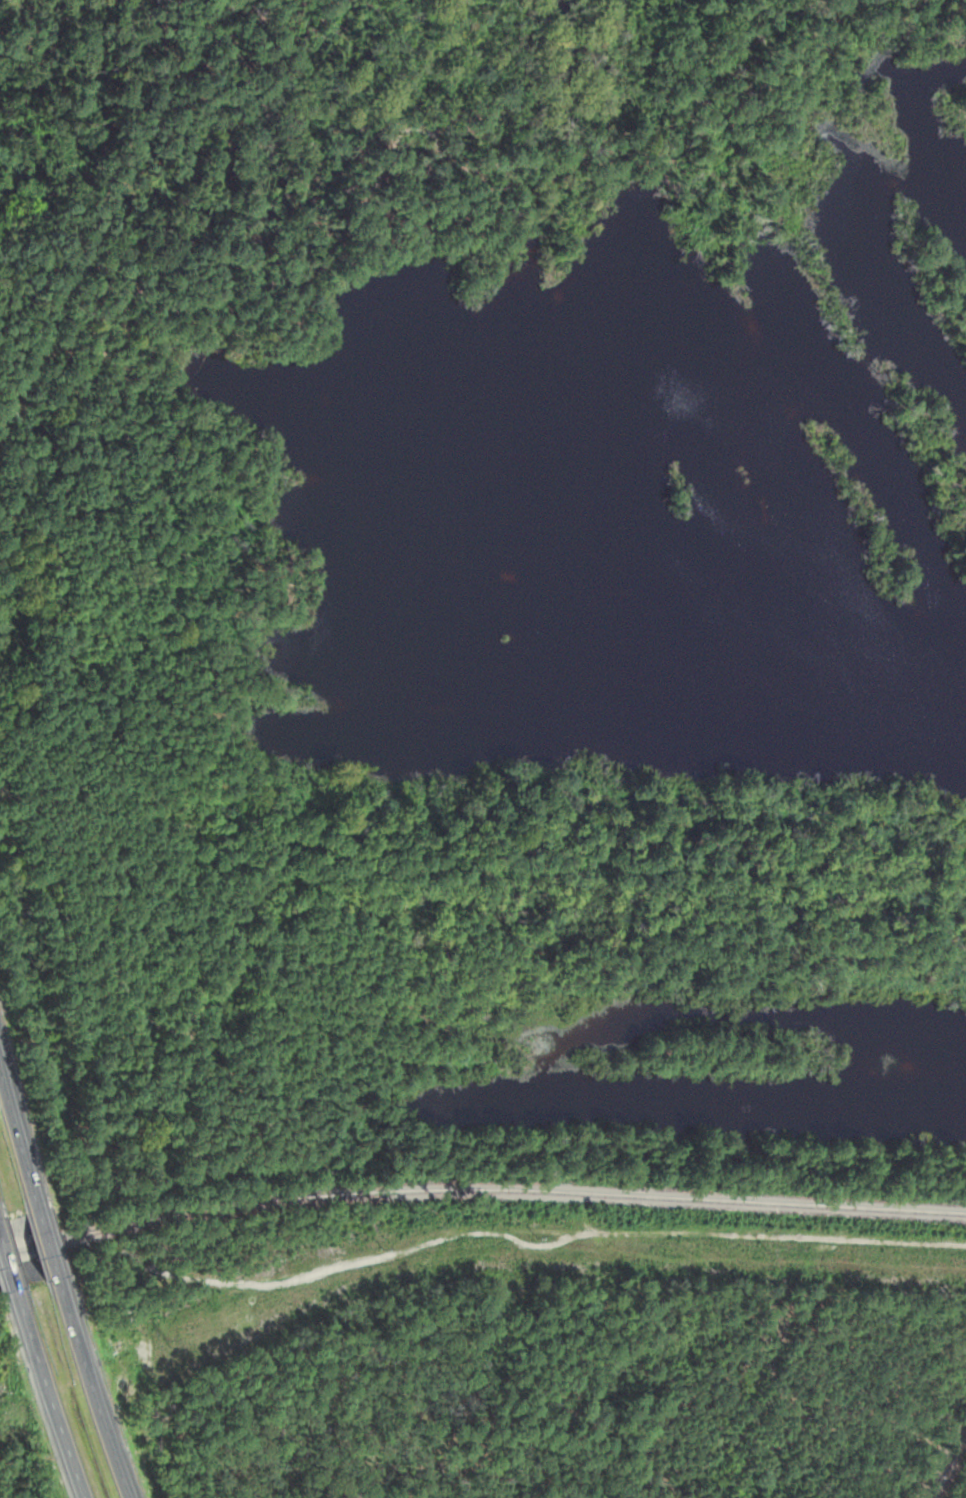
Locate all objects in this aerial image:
road: (16, 1150)
railway: (479, 1181)
power tower: (538, 1237)
road: (42, 1244)
power tower: (383, 1248)
power tower: (769, 1250)
road: (4, 1277)
power tower: (168, 1342)
road: (88, 1389)
road: (42, 1395)

